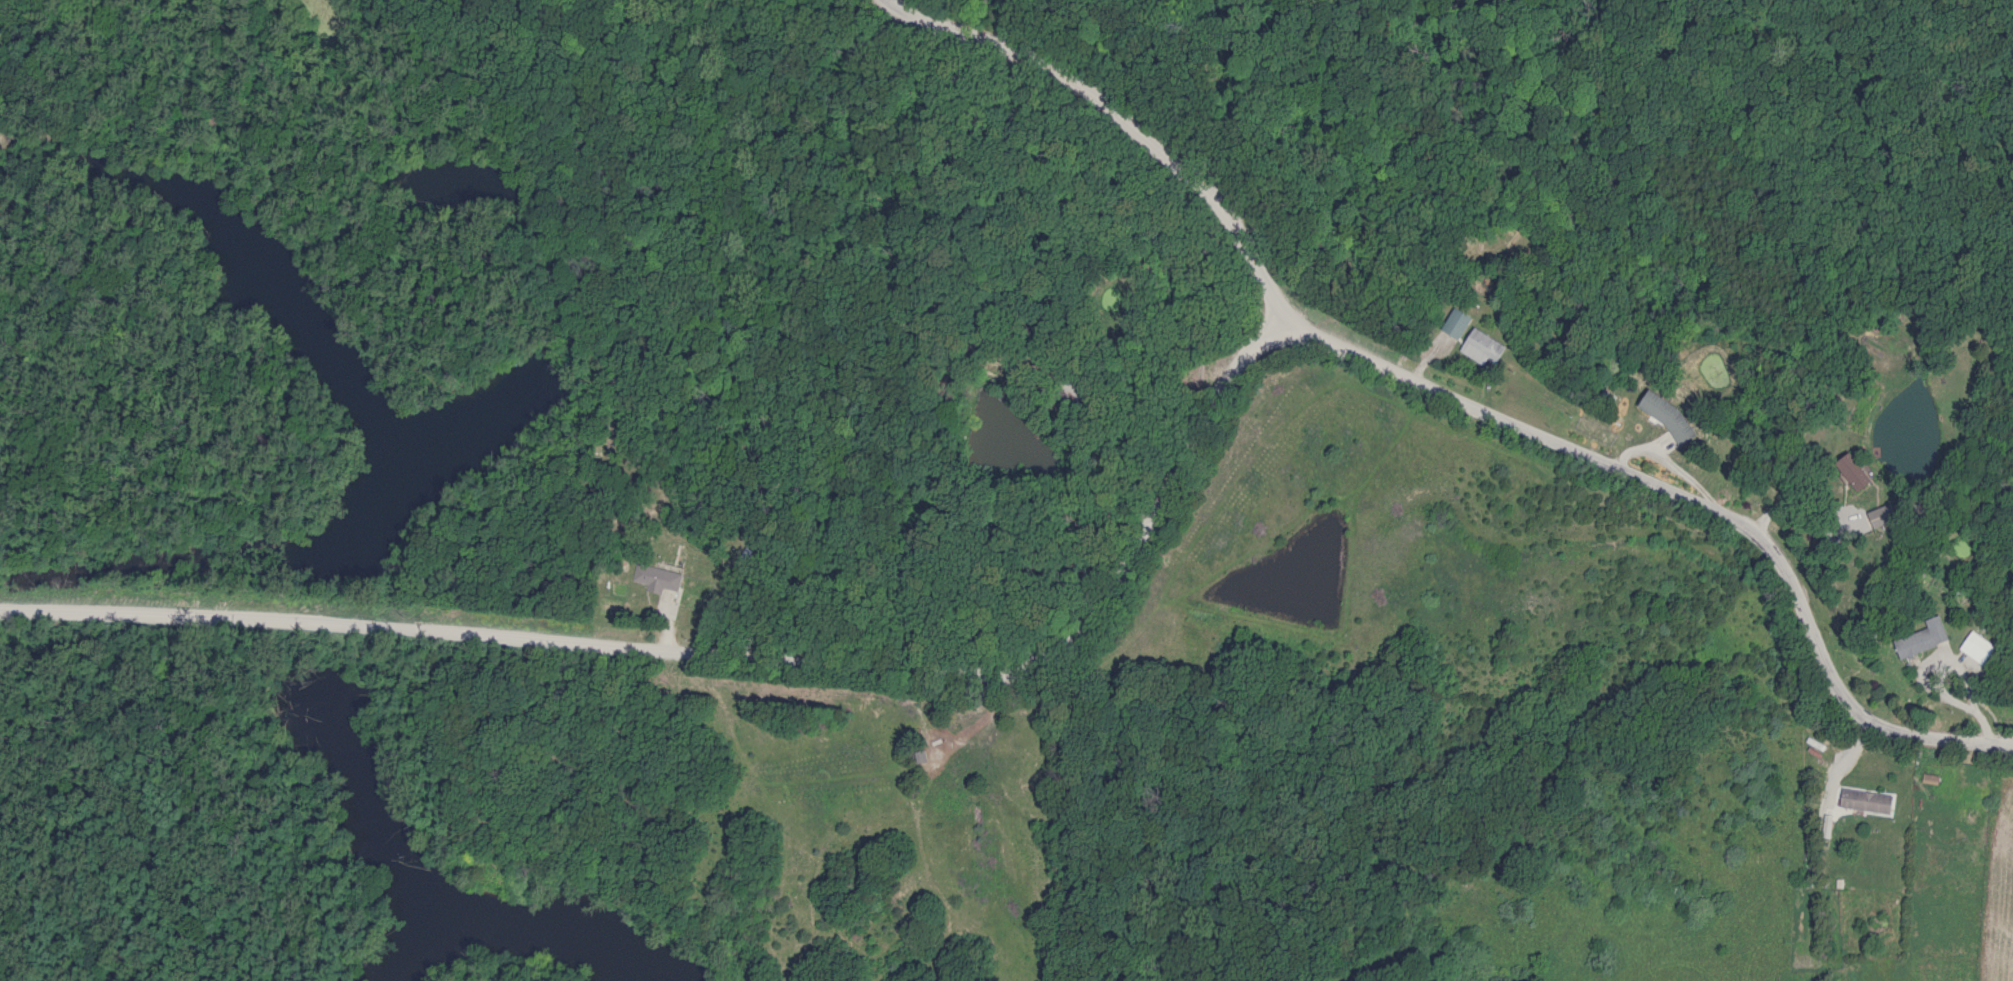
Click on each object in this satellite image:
building: (1458, 323)
building: (1486, 346)
road: (1450, 395)
building: (1668, 417)
building: (1855, 472)
building: (1883, 516)
building: (655, 578)
building: (1924, 638)
building: (1979, 648)
road: (732, 649)
building: (1868, 801)

